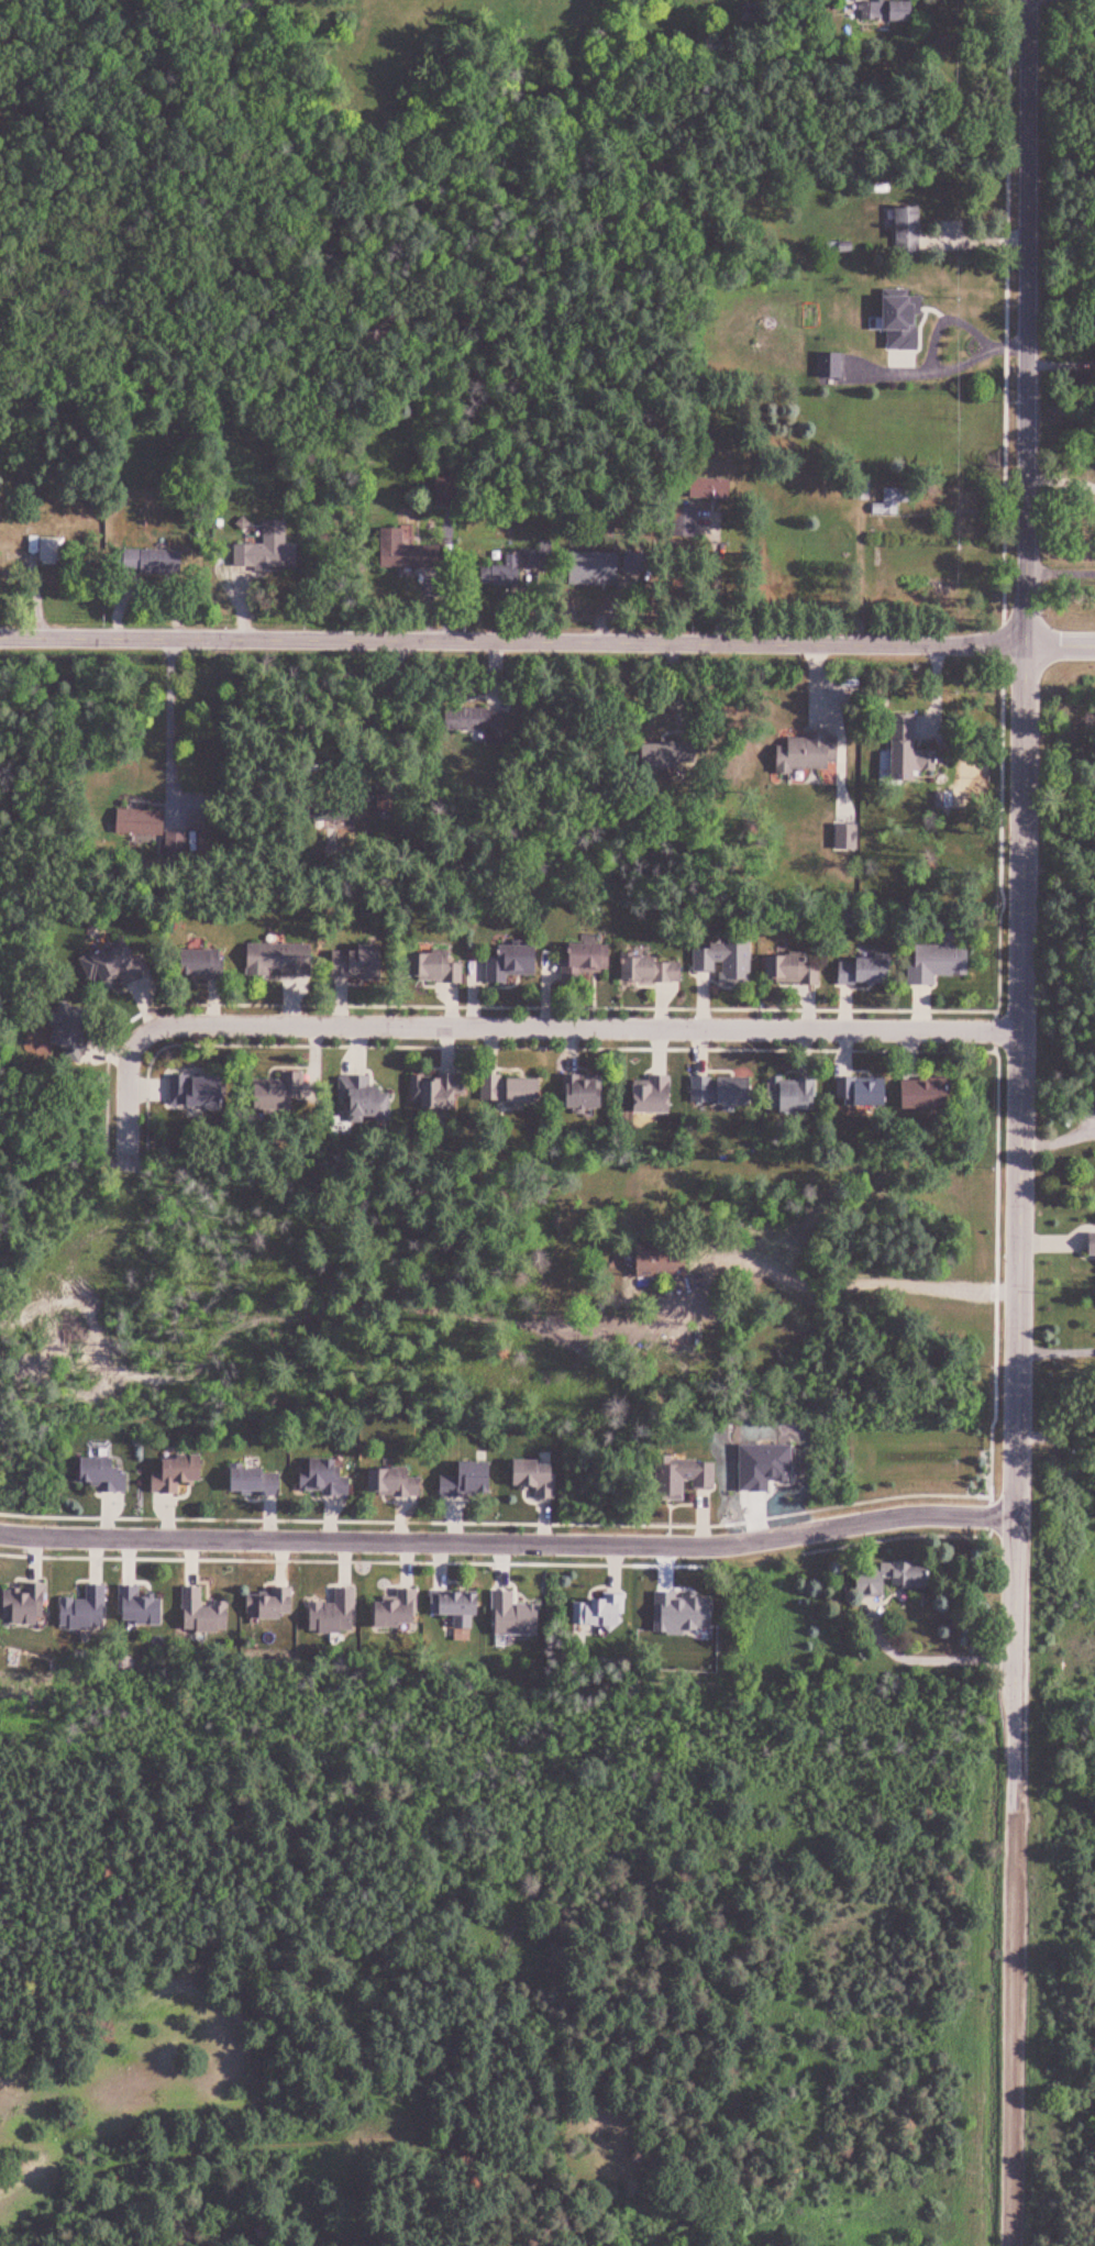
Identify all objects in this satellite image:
building: (881, 10)
building: (902, 229)
building: (898, 331)
building: (705, 487)
building: (861, 488)
building: (884, 507)
building: (682, 522)
building: (53, 547)
building: (269, 549)
building: (394, 550)
building: (165, 562)
building: (585, 567)
road: (1061, 574)
building: (487, 576)
road: (513, 643)
road: (1061, 646)
road: (373, 708)
building: (464, 719)
road: (170, 723)
building: (903, 748)
building: (659, 754)
building: (797, 754)
building: (342, 814)
building: (144, 823)
road: (1000, 840)
building: (180, 842)
road: (1061, 871)
road: (1027, 906)
building: (263, 939)
building: (578, 942)
building: (706, 943)
building: (425, 944)
building: (351, 947)
building: (852, 947)
building: (926, 947)
building: (191, 948)
building: (498, 948)
building: (638, 948)
building: (773, 951)
building: (283, 960)
building: (722, 960)
building: (206, 963)
building: (516, 963)
building: (576, 963)
building: (119, 965)
building: (440, 967)
building: (646, 969)
building: (787, 969)
building: (854, 971)
road: (543, 1006)
road: (589, 1029)
building: (75, 1032)
road: (740, 1044)
building: (340, 1065)
building: (427, 1073)
building: (510, 1074)
building: (707, 1074)
building: (785, 1075)
building: (858, 1076)
building: (572, 1077)
building: (910, 1077)
building: (640, 1080)
road: (125, 1085)
building: (517, 1089)
building: (714, 1089)
building: (202, 1092)
building: (440, 1092)
building: (588, 1092)
building: (919, 1092)
building: (283, 1093)
building: (788, 1094)
building: (370, 1102)
road: (108, 1108)
building: (1087, 1243)
building: (664, 1260)
road: (865, 1280)
building: (104, 1473)
building: (182, 1473)
building: (540, 1478)
building: (325, 1479)
building: (686, 1479)
building: (397, 1482)
building: (258, 1483)
road: (496, 1505)
road: (511, 1542)
building: (884, 1578)
building: (273, 1604)
building: (29, 1605)
building: (144, 1607)
building: (462, 1607)
building: (89, 1609)
building: (401, 1611)
building: (606, 1612)
building: (207, 1613)
building: (338, 1614)
road: (1018, 2029)
road: (583, 2180)

